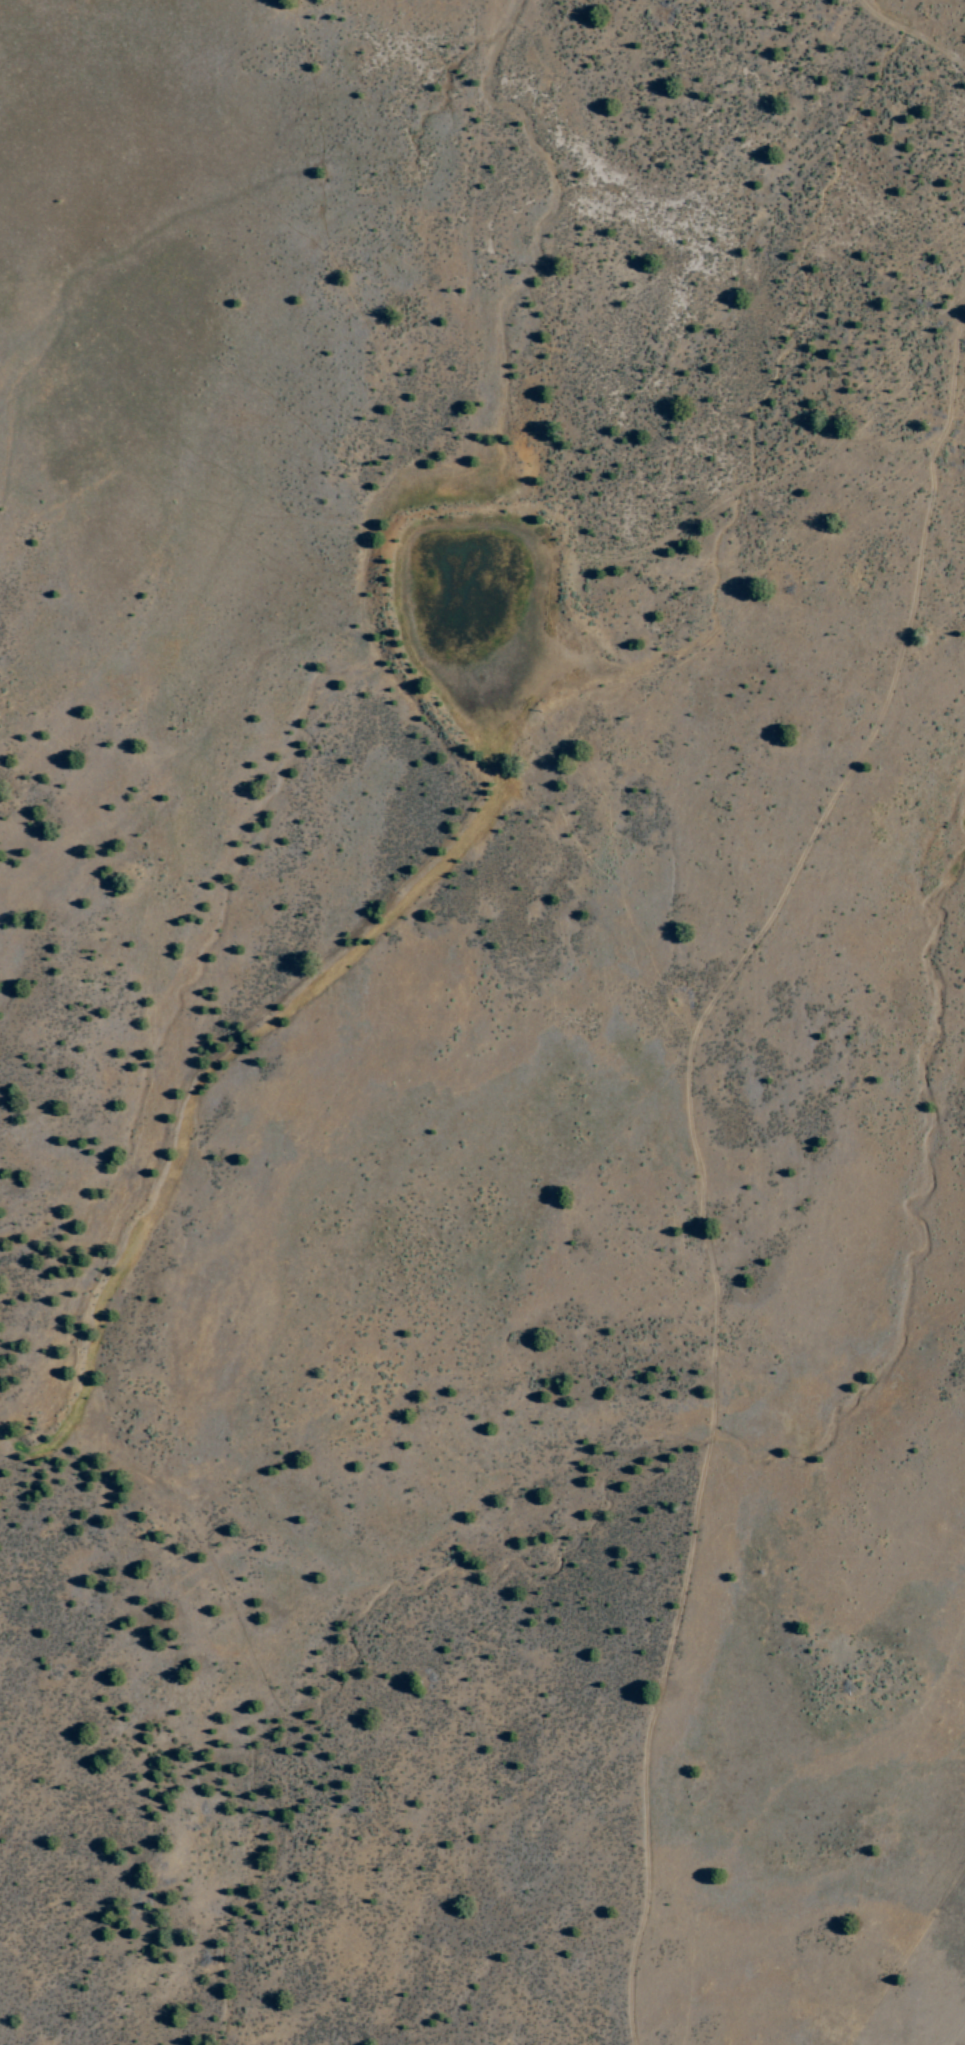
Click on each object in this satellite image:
road: (912, 33)

